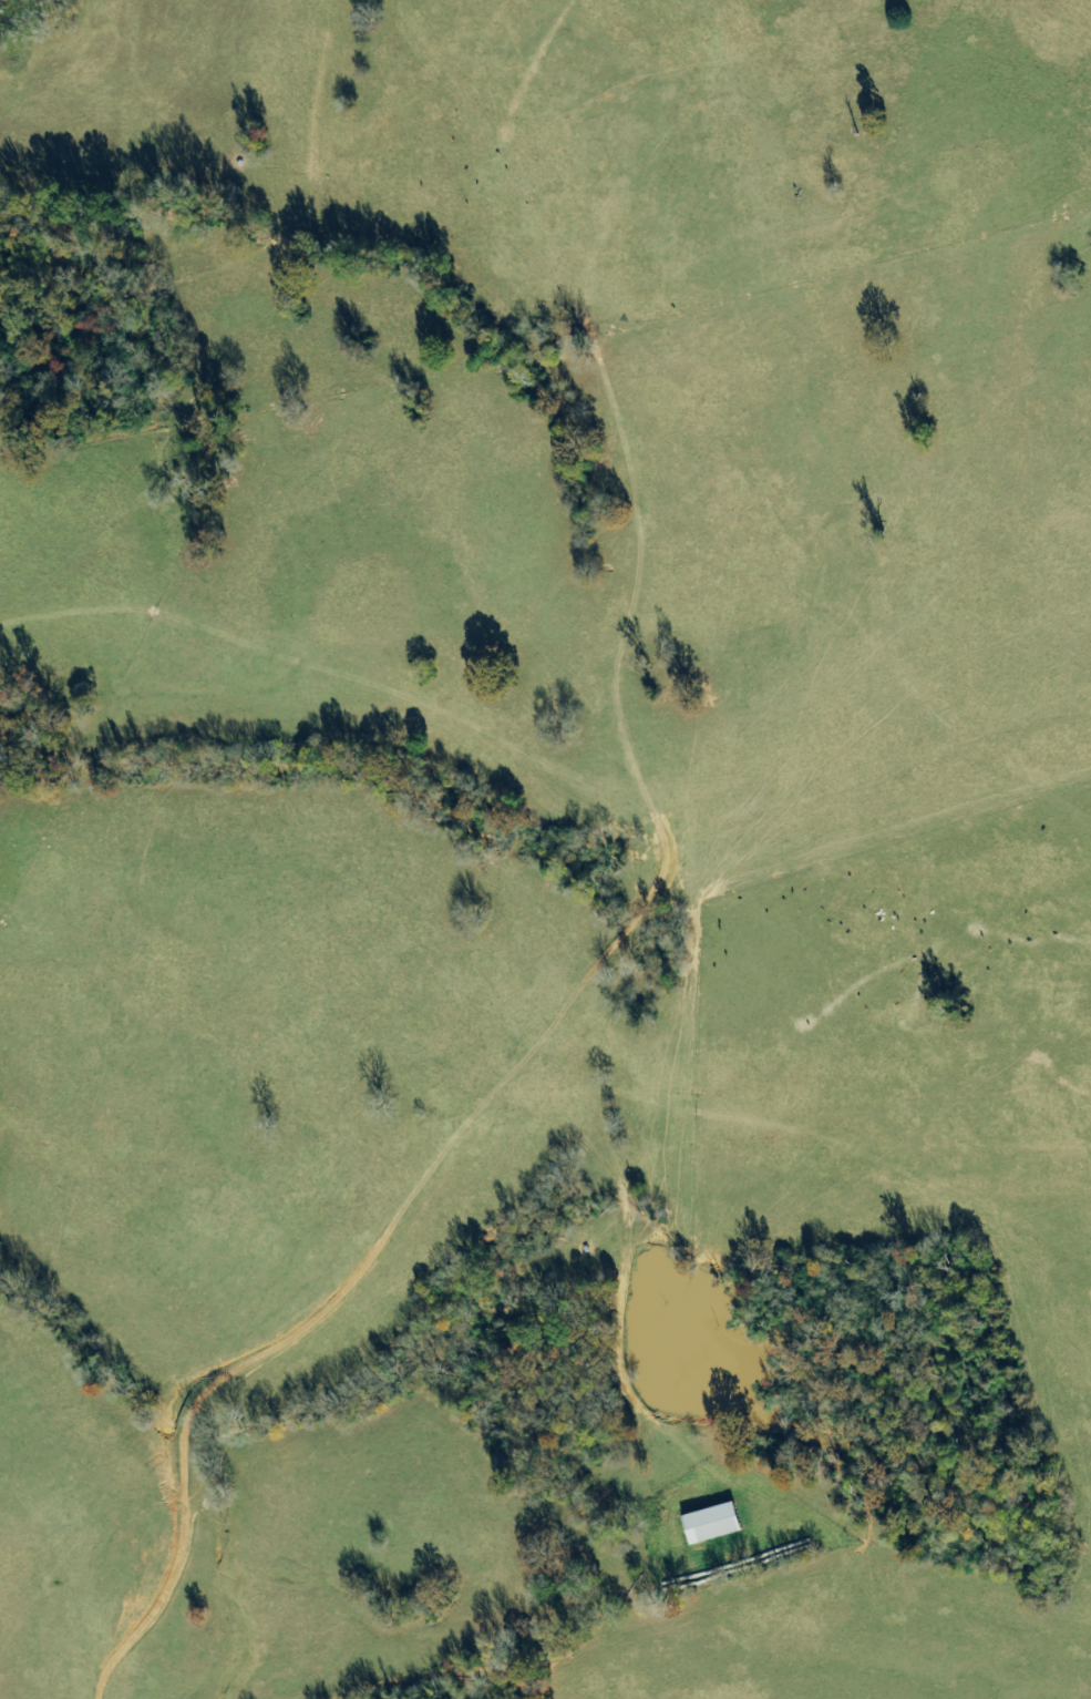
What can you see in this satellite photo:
building: (716, 1523)

